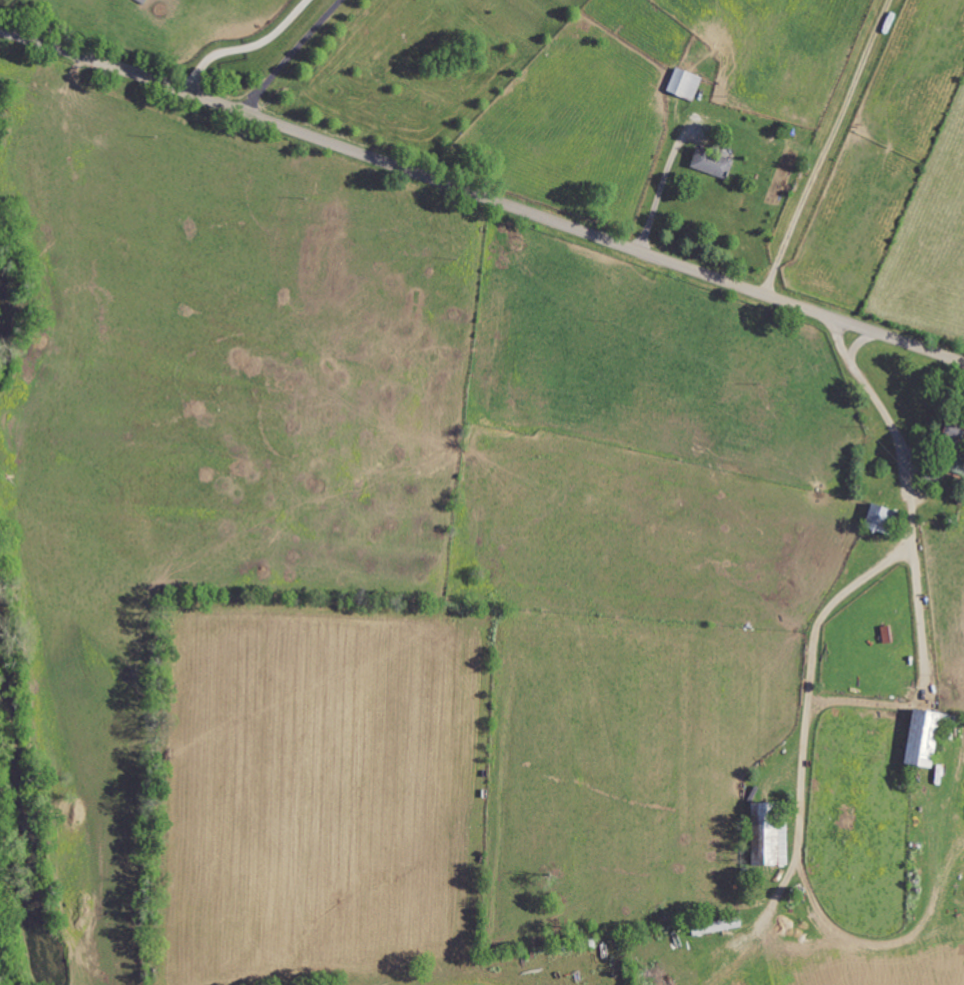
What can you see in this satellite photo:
road: (246, 48)
road: (291, 56)
building: (687, 83)
road: (824, 148)
building: (715, 163)
road: (658, 198)
road: (481, 199)
road: (908, 493)
road: (809, 677)
building: (918, 740)
building: (767, 844)

